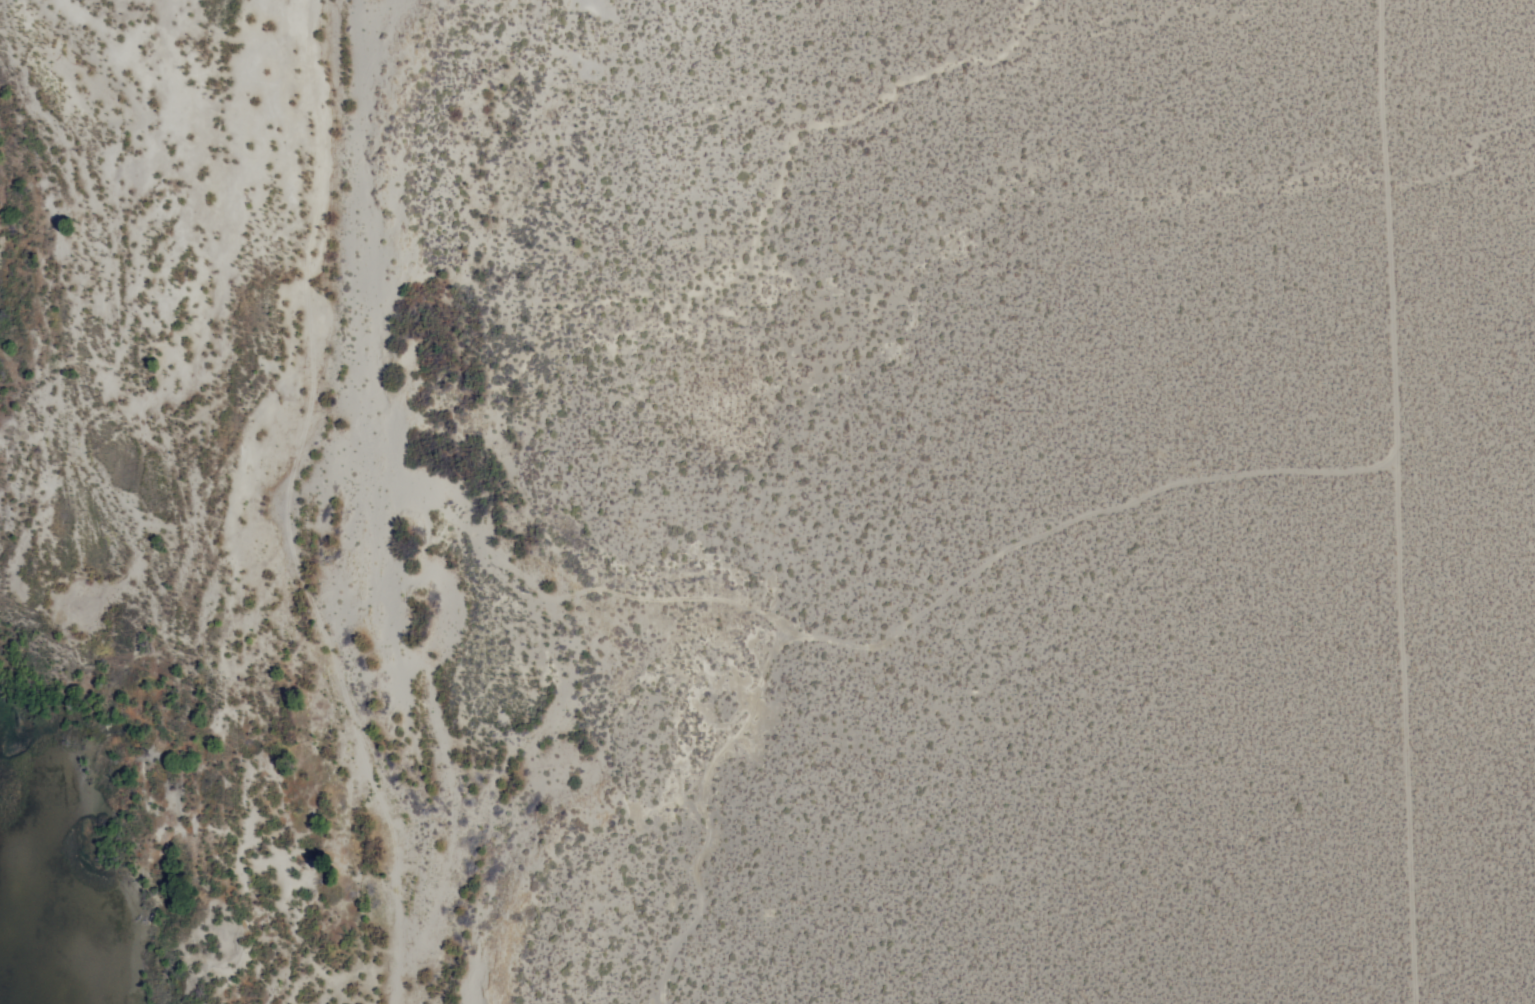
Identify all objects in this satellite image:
road: (1400, 501)
road: (965, 581)
road: (708, 808)

